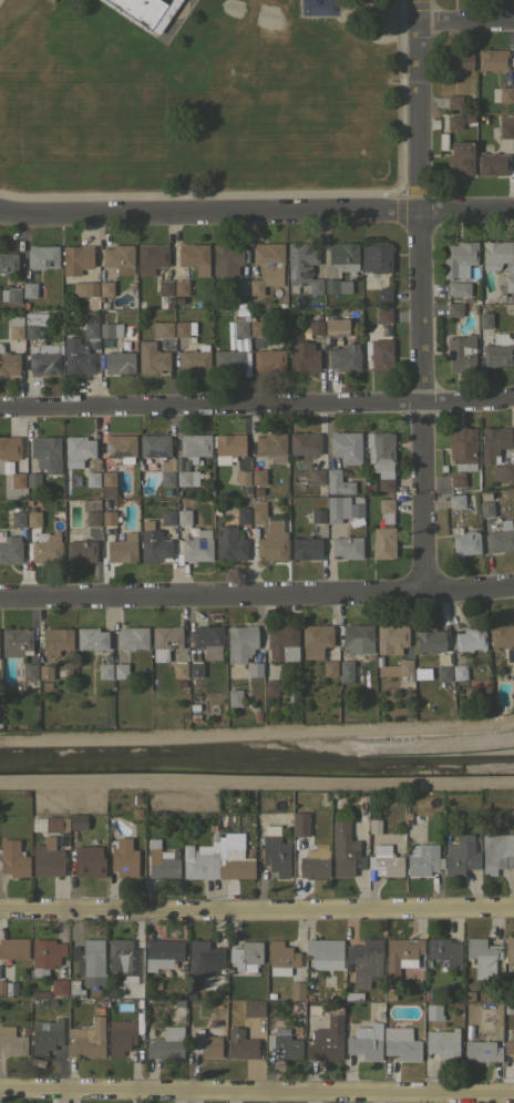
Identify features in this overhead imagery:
building: (143, 11)
road: (466, 20)
building: (459, 59)
building: (492, 59)
building: (502, 94)
building: (453, 102)
building: (453, 122)
building: (505, 130)
building: (442, 141)
building: (513, 144)
building: (460, 159)
building: (492, 162)
road: (256, 208)
building: (192, 254)
building: (343, 255)
building: (42, 256)
building: (376, 256)
building: (151, 257)
building: (75, 258)
building: (227, 258)
building: (119, 259)
building: (459, 259)
building: (500, 261)
building: (8, 263)
building: (267, 266)
building: (302, 268)
building: (337, 286)
building: (165, 287)
building: (181, 287)
building: (240, 287)
building: (85, 288)
building: (105, 288)
building: (459, 288)
building: (29, 289)
building: (10, 294)
building: (383, 295)
road: (417, 295)
building: (501, 297)
building: (508, 298)
building: (240, 305)
building: (280, 305)
building: (24, 306)
building: (454, 309)
building: (383, 315)
building: (484, 319)
building: (32, 324)
building: (90, 324)
building: (16, 326)
building: (295, 327)
building: (316, 327)
building: (335, 327)
building: (184, 328)
building: (240, 328)
building: (256, 328)
building: (111, 329)
building: (163, 329)
building: (83, 330)
building: (295, 335)
building: (228, 345)
building: (513, 347)
building: (497, 350)
building: (461, 353)
building: (379, 354)
building: (79, 355)
building: (302, 356)
building: (343, 357)
building: (152, 358)
building: (44, 359)
building: (194, 359)
building: (268, 360)
building: (119, 361)
building: (228, 361)
building: (8, 362)
building: (328, 375)
road: (257, 402)
building: (493, 442)
building: (305, 443)
building: (154, 445)
building: (195, 445)
building: (271, 446)
building: (121, 447)
building: (228, 447)
building: (346, 447)
building: (9, 448)
building: (462, 448)
building: (76, 450)
building: (379, 450)
building: (45, 452)
building: (505, 467)
building: (167, 472)
building: (317, 476)
building: (241, 477)
building: (258, 477)
building: (183, 478)
building: (32, 479)
building: (92, 479)
building: (17, 480)
building: (339, 481)
building: (456, 482)
building: (66, 483)
building: (107, 483)
building: (385, 484)
building: (257, 490)
building: (167, 491)
building: (485, 497)
building: (358, 498)
building: (28, 501)
building: (455, 501)
building: (206, 504)
building: (385, 504)
building: (31, 508)
building: (216, 509)
building: (485, 509)
building: (336, 510)
building: (356, 510)
building: (318, 514)
building: (241, 515)
building: (258, 515)
building: (167, 517)
building: (184, 517)
building: (92, 518)
building: (109, 518)
building: (18, 519)
building: (33, 519)
building: (274, 524)
building: (501, 538)
building: (464, 541)
building: (383, 542)
building: (154, 543)
building: (229, 543)
building: (271, 545)
building: (197, 547)
building: (347, 547)
building: (10, 548)
building: (45, 548)
building: (122, 548)
building: (306, 548)
building: (80, 549)
road: (257, 592)
building: (502, 635)
building: (132, 637)
building: (357, 637)
building: (391, 637)
building: (91, 639)
building: (55, 640)
building: (315, 640)
building: (470, 640)
building: (165, 641)
building: (429, 641)
building: (16, 642)
building: (208, 642)
building: (240, 643)
building: (282, 643)
building: (508, 654)
building: (513, 663)
building: (329, 667)
building: (346, 667)
building: (195, 668)
building: (255, 668)
building: (395, 668)
building: (179, 670)
building: (104, 671)
building: (121, 671)
building: (30, 672)
building: (45, 672)
building: (459, 672)
building: (443, 673)
building: (433, 676)
building: (179, 682)
building: (45, 683)
building: (459, 684)
building: (270, 687)
building: (290, 692)
building: (194, 694)
building: (234, 697)
building: (191, 715)
building: (256, 715)
building: (193, 723)
building: (323, 795)
building: (136, 799)
building: (333, 810)
building: (512, 814)
building: (407, 815)
building: (222, 819)
building: (78, 821)
building: (52, 824)
building: (299, 824)
building: (212, 826)
building: (374, 826)
building: (345, 850)
building: (495, 852)
building: (276, 855)
building: (461, 856)
building: (123, 857)
building: (12, 858)
building: (48, 859)
building: (422, 859)
building: (315, 860)
building: (89, 861)
building: (161, 861)
building: (201, 861)
building: (385, 861)
building: (236, 868)
road: (257, 907)
building: (510, 947)
building: (13, 948)
building: (444, 951)
building: (325, 953)
building: (165, 954)
building: (401, 954)
building: (45, 956)
building: (123, 956)
building: (246, 956)
building: (482, 957)
building: (204, 958)
building: (280, 958)
building: (364, 961)
building: (89, 962)
building: (126, 981)
building: (156, 984)
building: (59, 985)
building: (2, 988)
building: (74, 989)
building: (297, 990)
building: (307, 990)
building: (111, 992)
building: (39, 993)
building: (270, 994)
building: (390, 995)
building: (428, 995)
building: (469, 995)
building: (309, 997)
building: (51, 1002)
building: (178, 1003)
building: (297, 1007)
building: (508, 1008)
building: (254, 1009)
building: (99, 1010)
building: (433, 1011)
building: (17, 1030)
building: (45, 1035)
building: (121, 1035)
building: (328, 1036)
building: (88, 1039)
building: (12, 1041)
building: (205, 1041)
building: (366, 1041)
building: (166, 1043)
building: (401, 1043)
building: (443, 1043)
building: (240, 1044)
building: (284, 1044)
building: (510, 1044)
building: (481, 1050)
road: (257, 1090)

